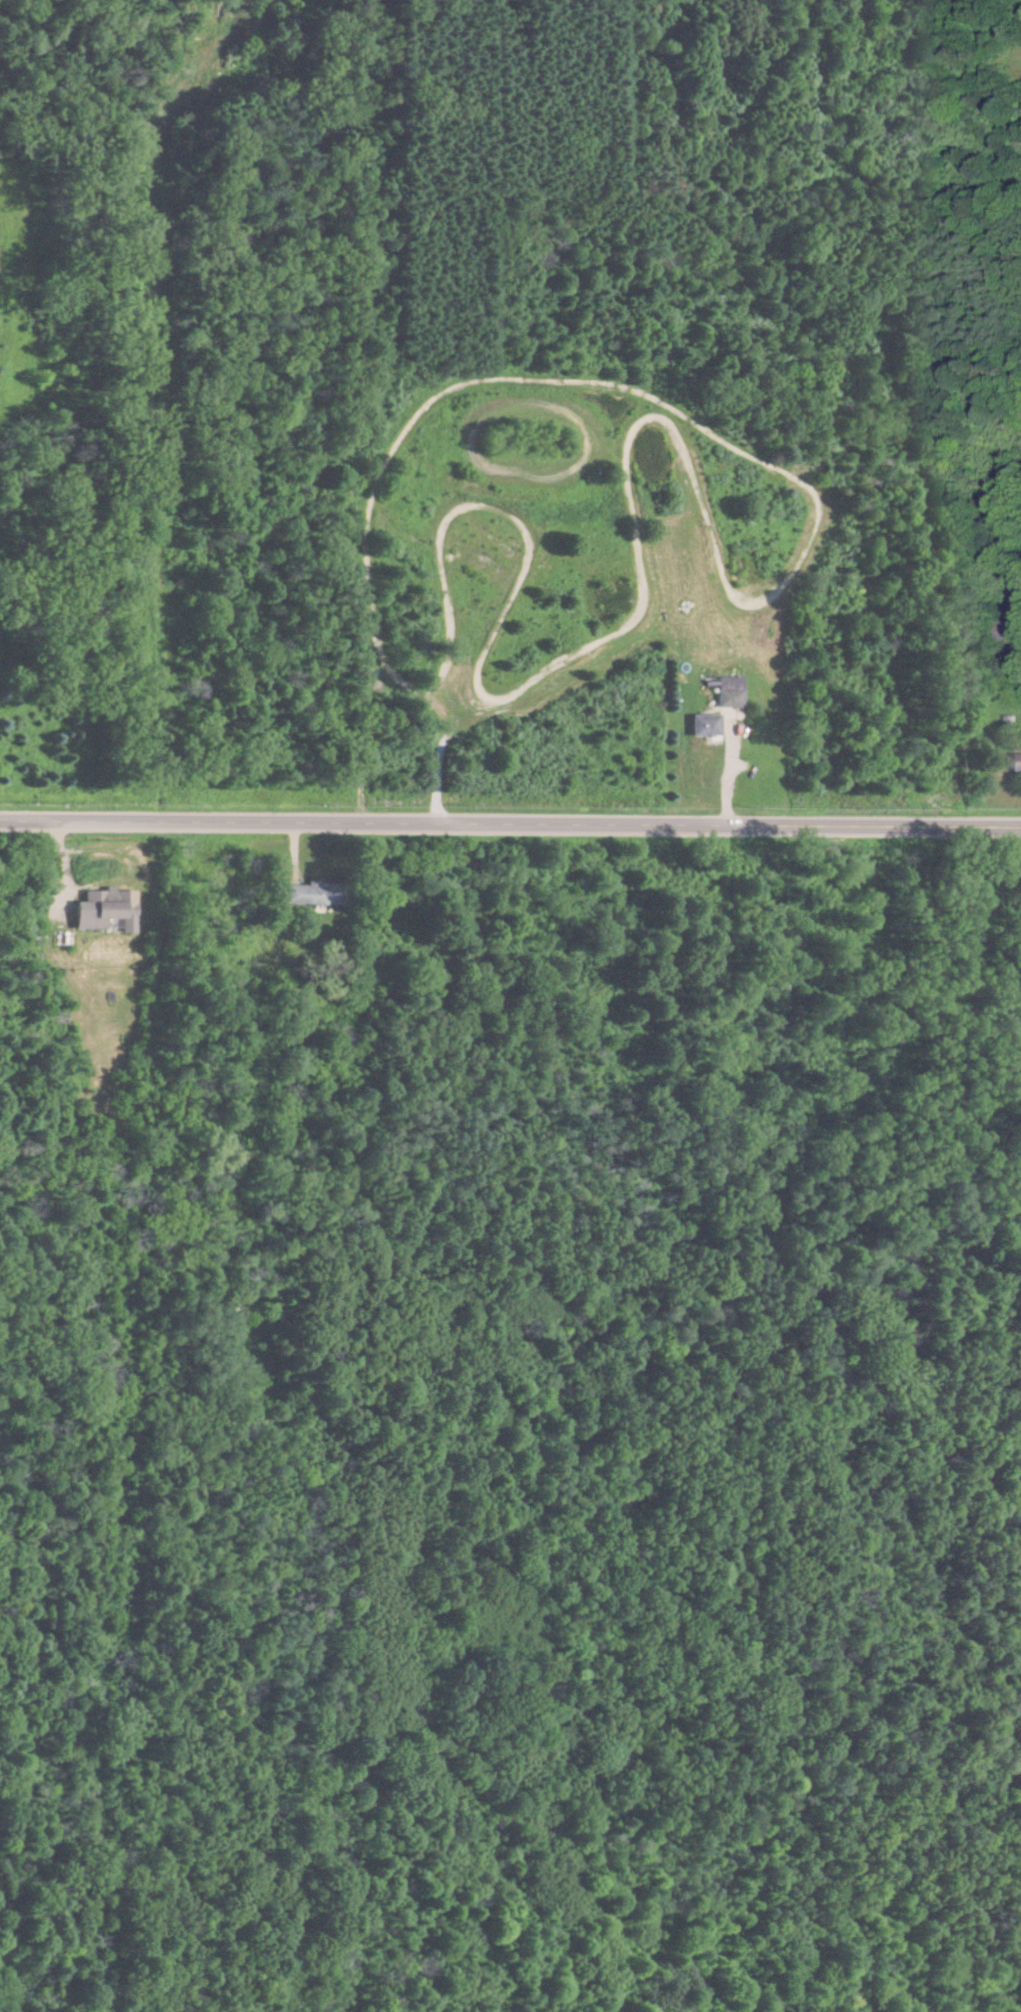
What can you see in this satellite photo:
building: (729, 692)
building: (704, 725)
building: (1015, 763)
road: (510, 824)
building: (311, 895)
building: (104, 910)

